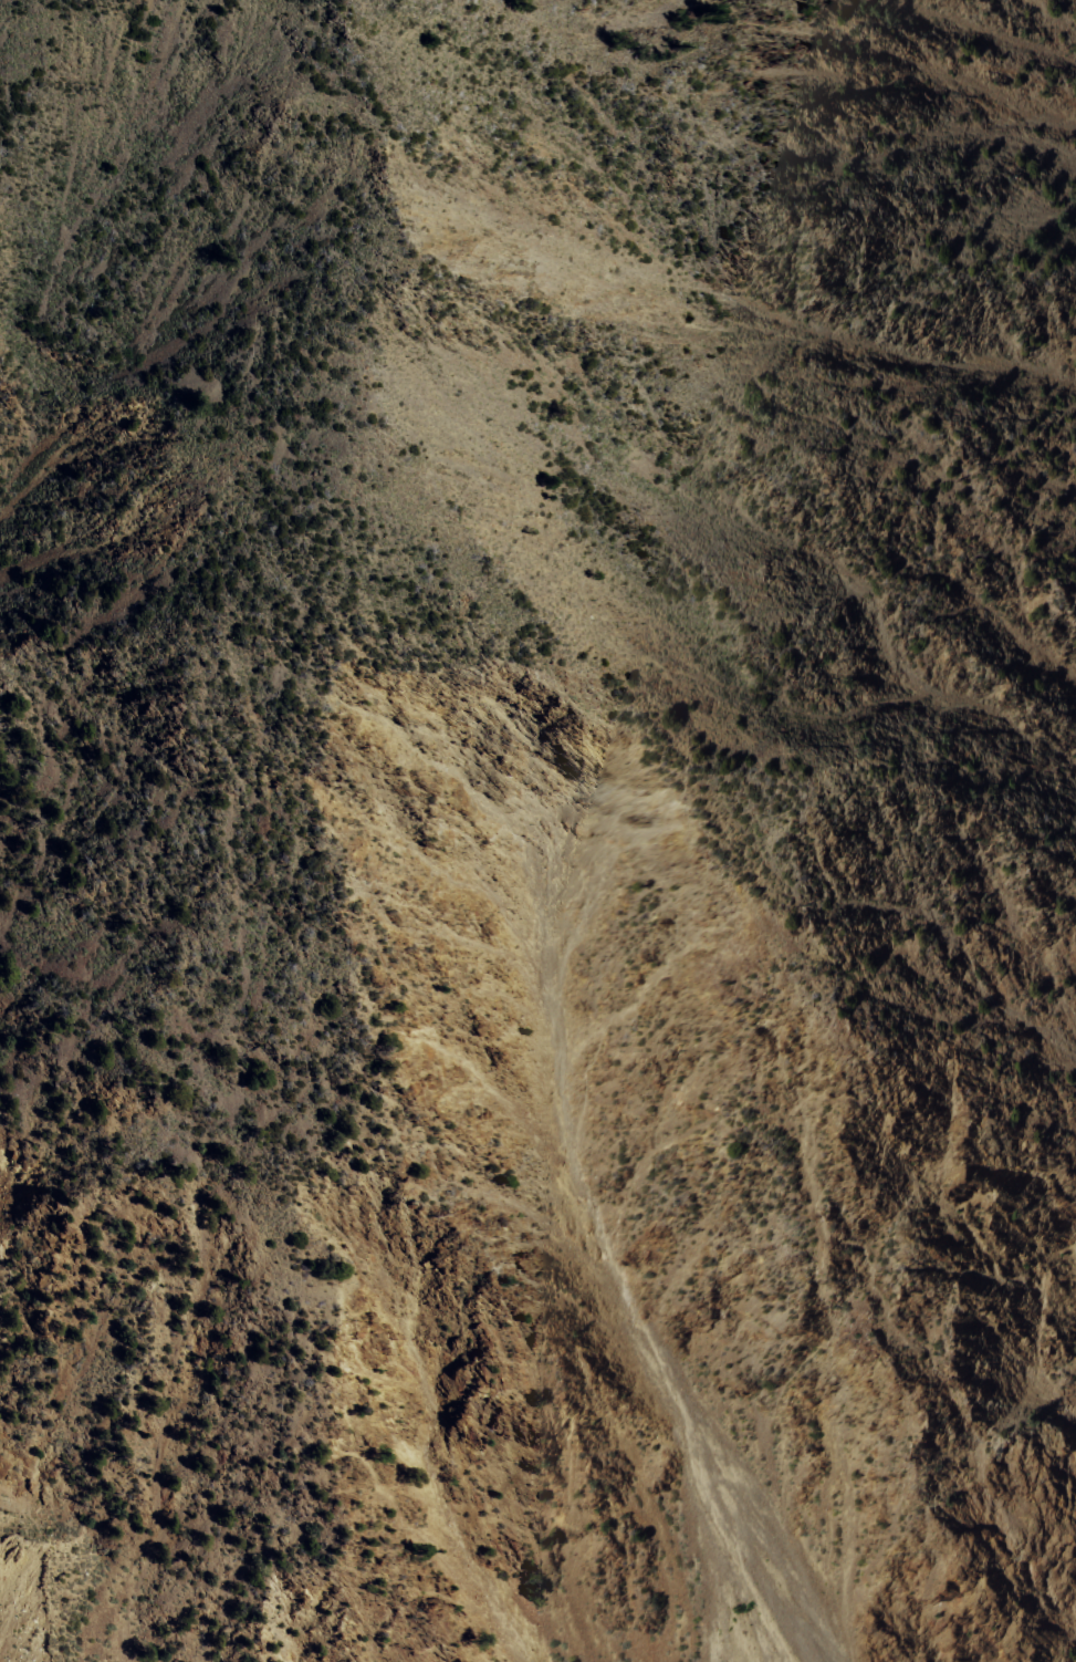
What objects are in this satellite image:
road: (22, 1500)

